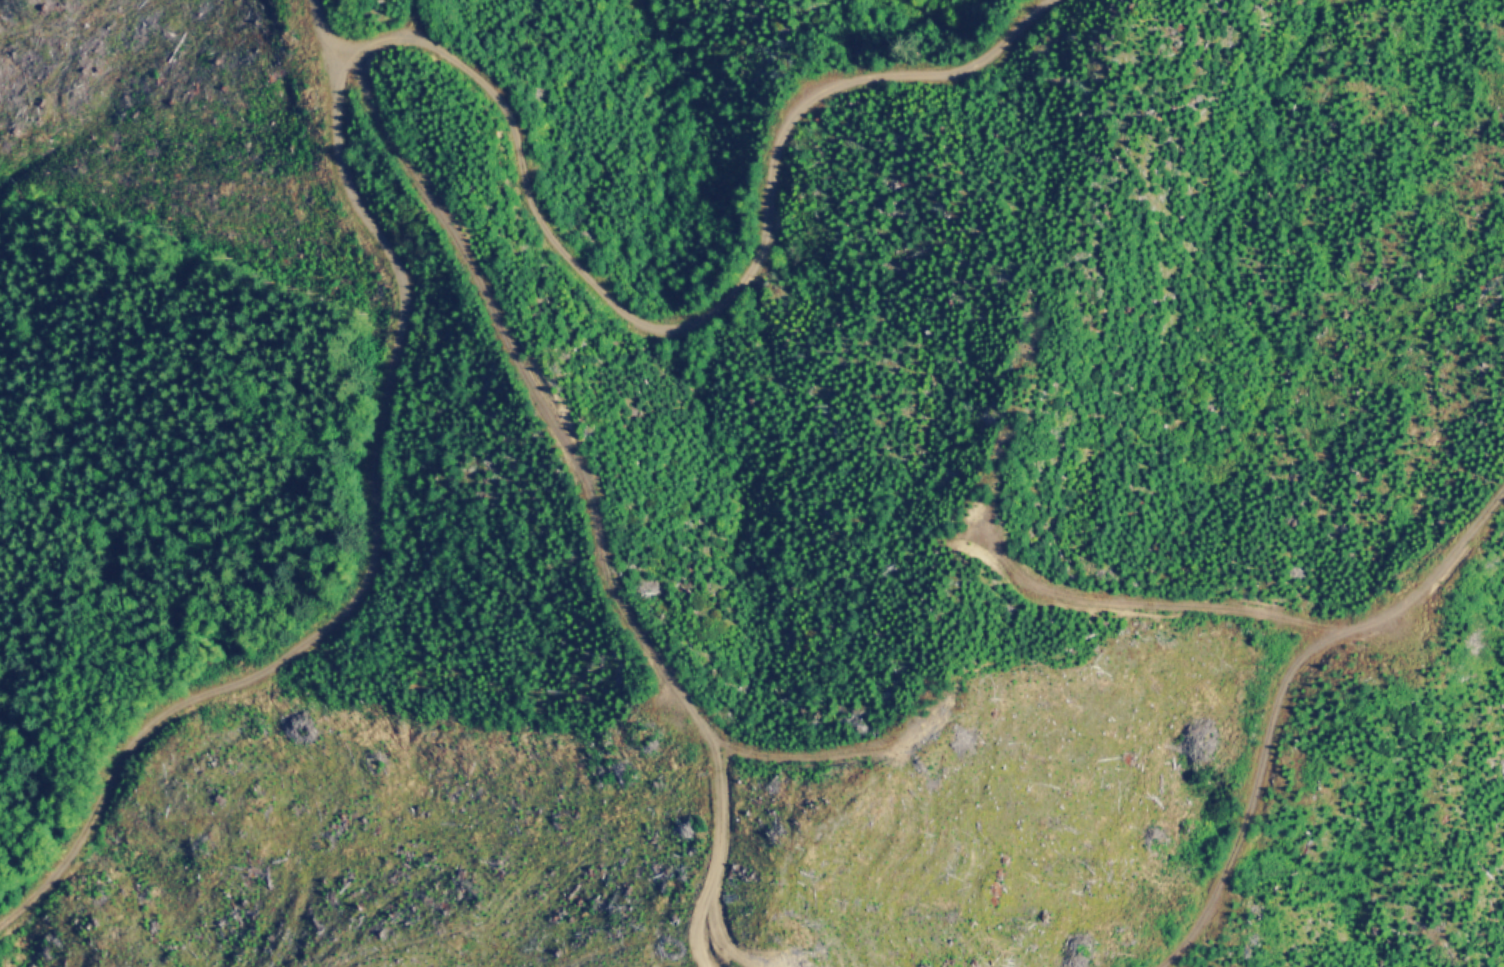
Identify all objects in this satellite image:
road: (344, 60)
road: (576, 463)
road: (1040, 588)
road: (1280, 691)
road: (706, 855)

